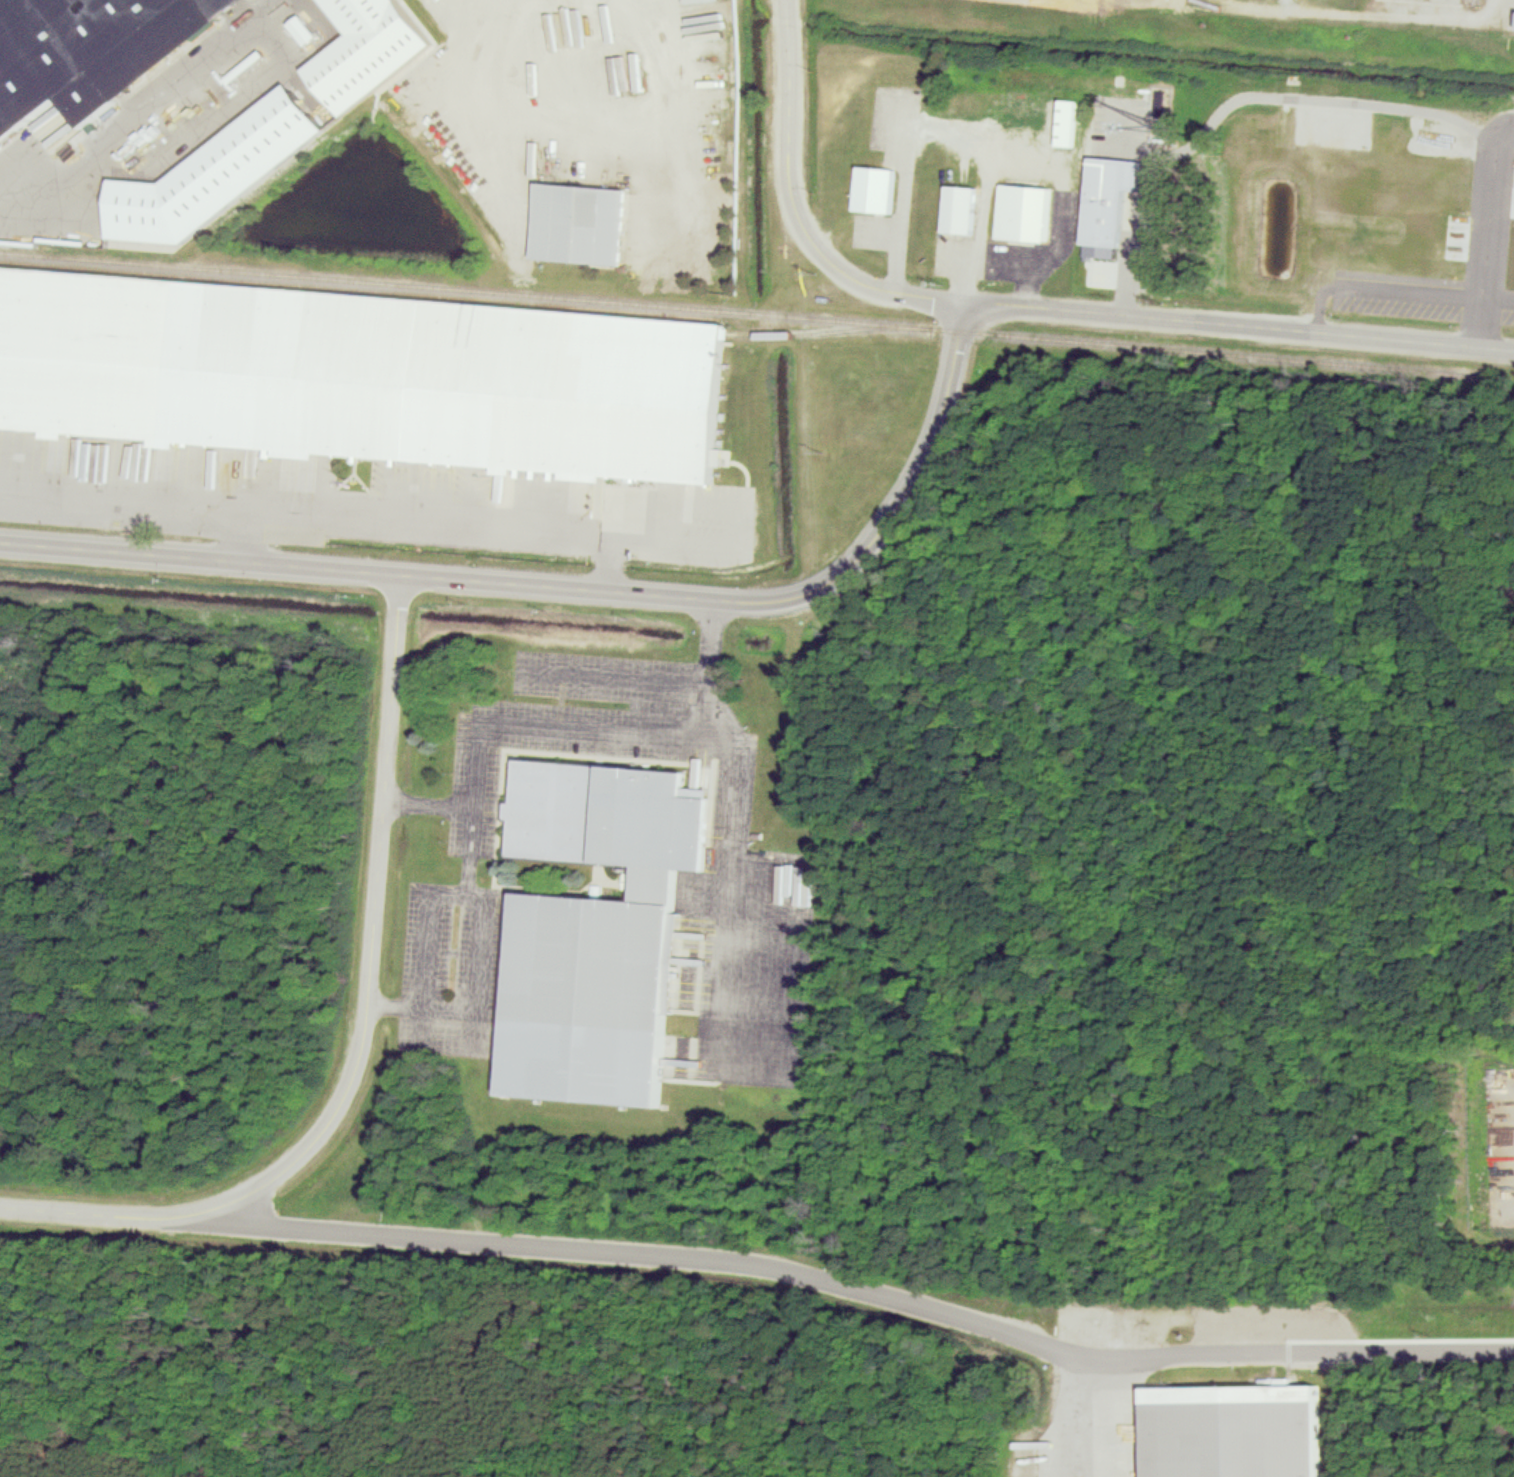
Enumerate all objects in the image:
road: (1223, 1)
road: (1367, 9)
building: (372, 47)
building: (93, 52)
road: (1241, 99)
road: (467, 104)
building: (1066, 120)
road: (946, 126)
building: (211, 175)
building: (877, 186)
road: (794, 206)
building: (962, 206)
building: (1025, 209)
building: (1109, 211)
road: (1064, 212)
building: (574, 219)
building: (1075, 224)
road: (1484, 227)
road: (1027, 283)
road: (1396, 287)
railway: (743, 313)
road: (1237, 325)
railway: (829, 331)
building: (361, 374)
road: (925, 465)
road: (331, 518)
road: (668, 545)
road: (411, 574)
road: (615, 675)
road: (564, 702)
road: (662, 739)
road: (427, 800)
road: (471, 808)
road: (726, 889)
road: (462, 892)
building: (602, 925)
road: (371, 928)
road: (105, 1215)
road: (658, 1258)
road: (1241, 1353)
building: (1237, 1430)
building: (1014, 1475)

